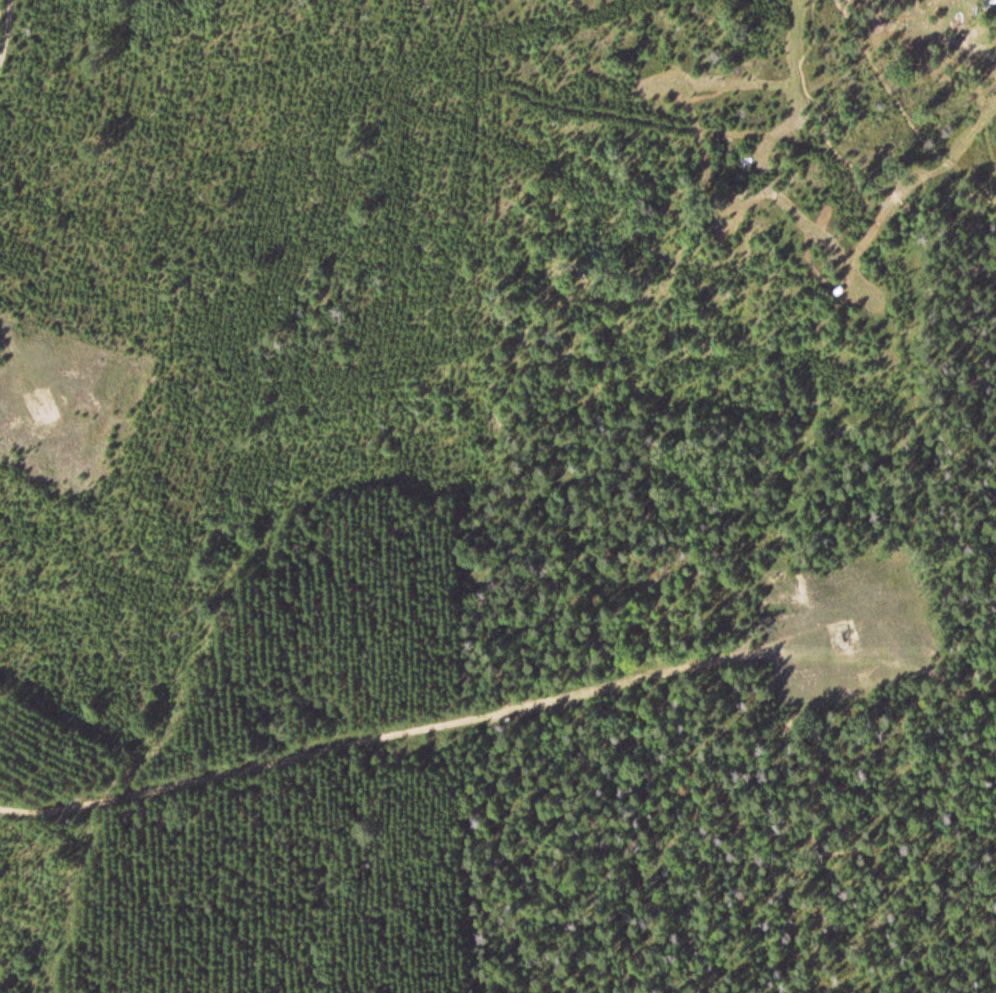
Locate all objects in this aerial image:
road: (5, 29)
petroleum well: (839, 629)
road: (386, 728)

